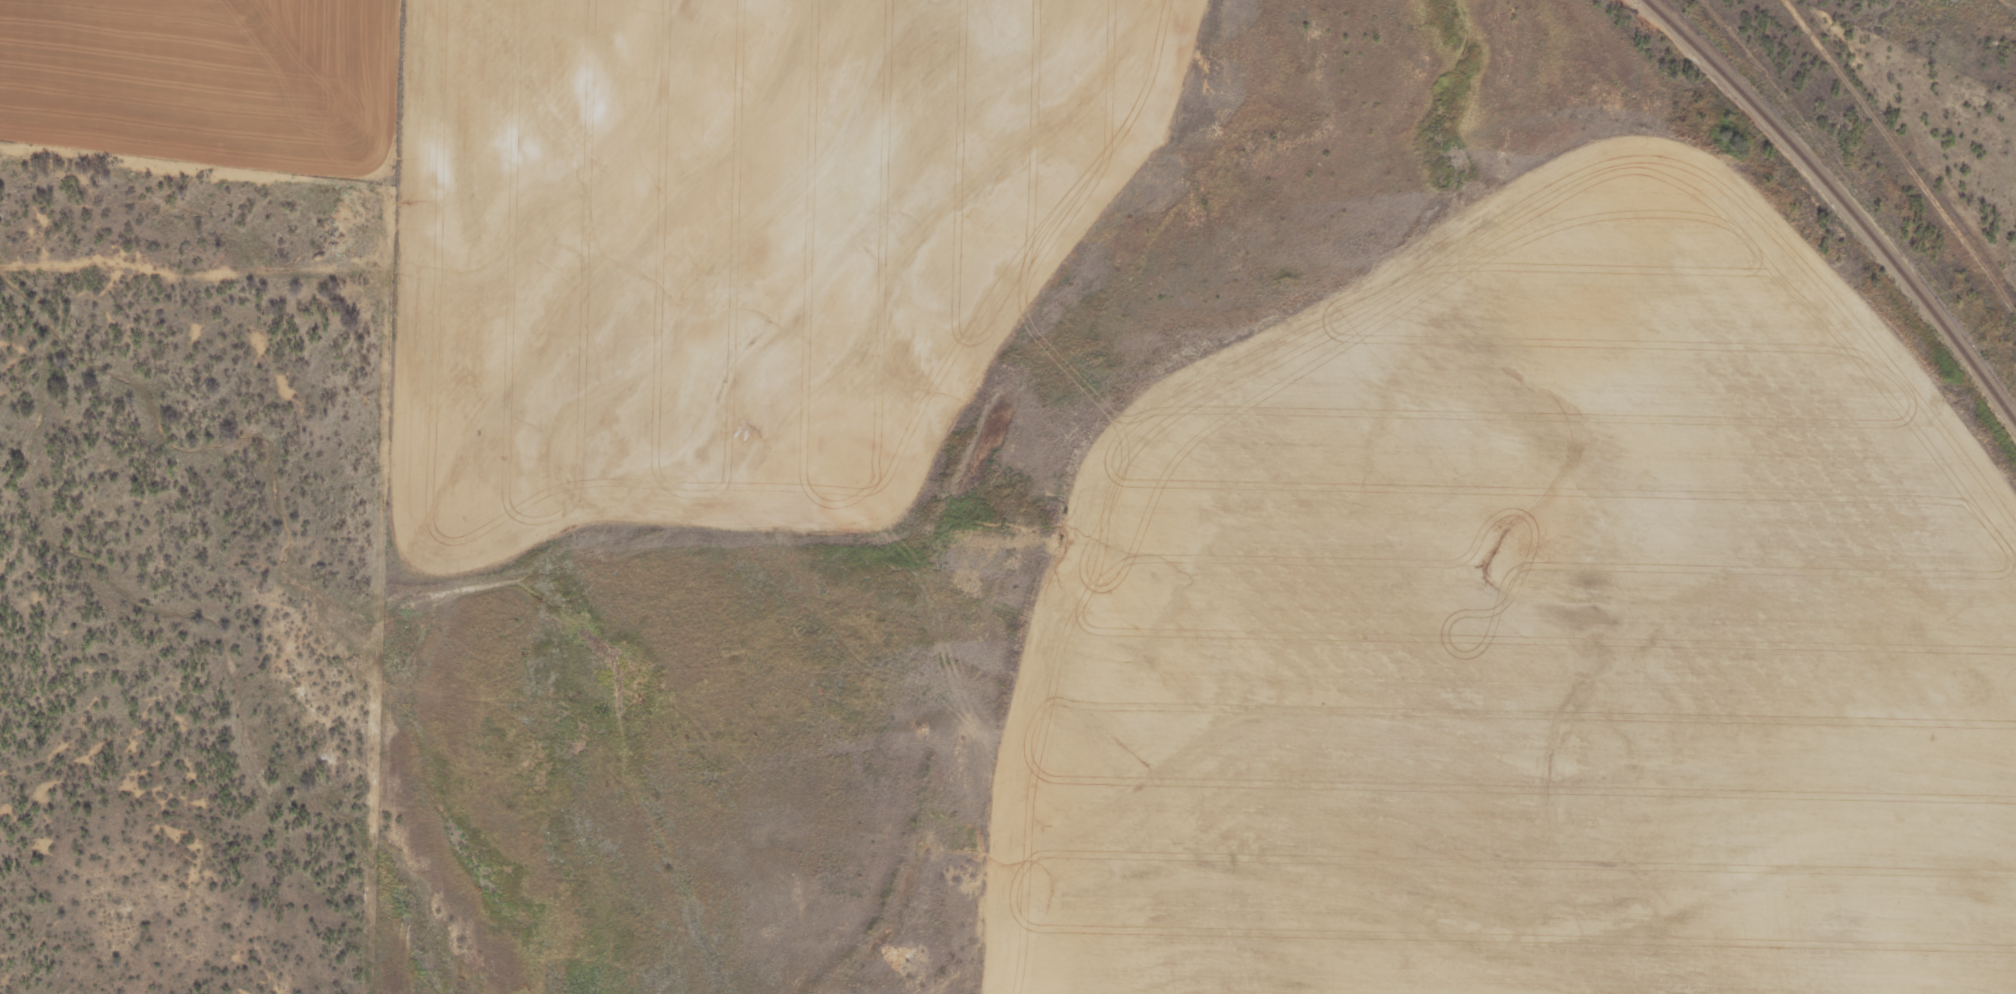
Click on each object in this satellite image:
road: (1899, 158)
railway: (1842, 200)

